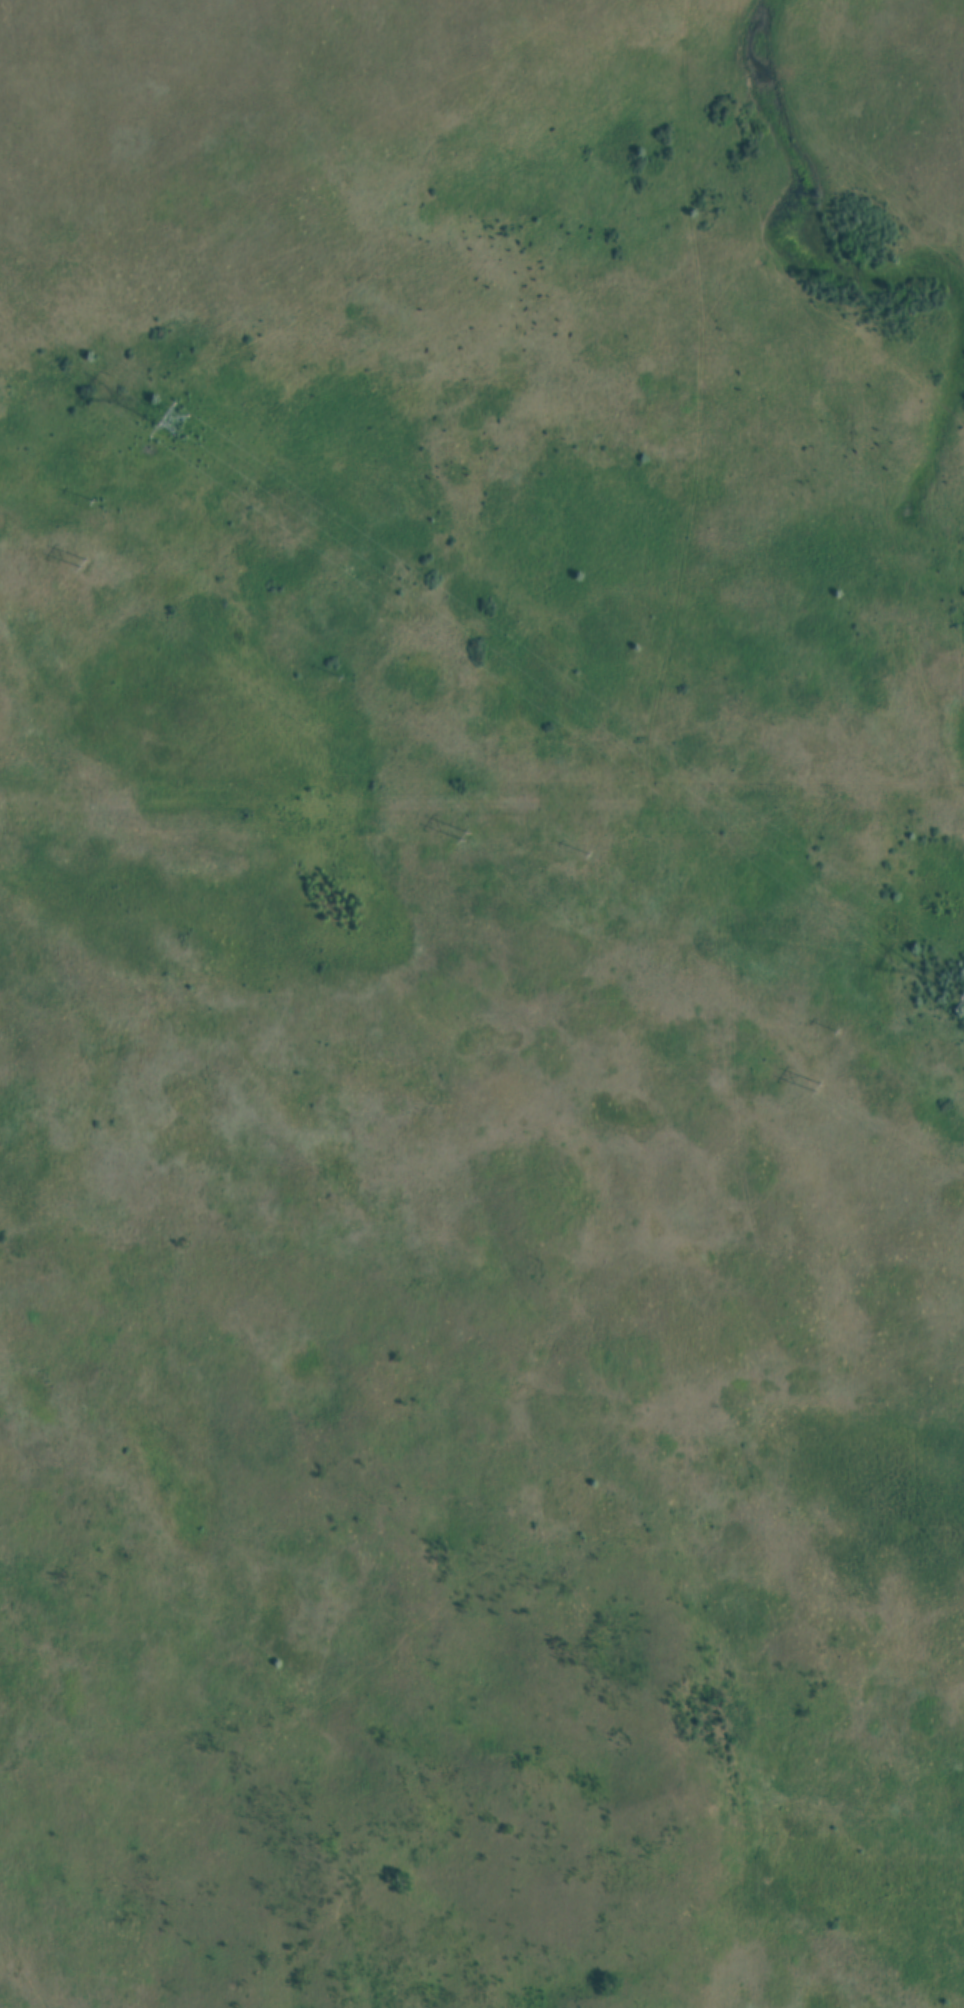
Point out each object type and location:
power tower: (169, 417)

